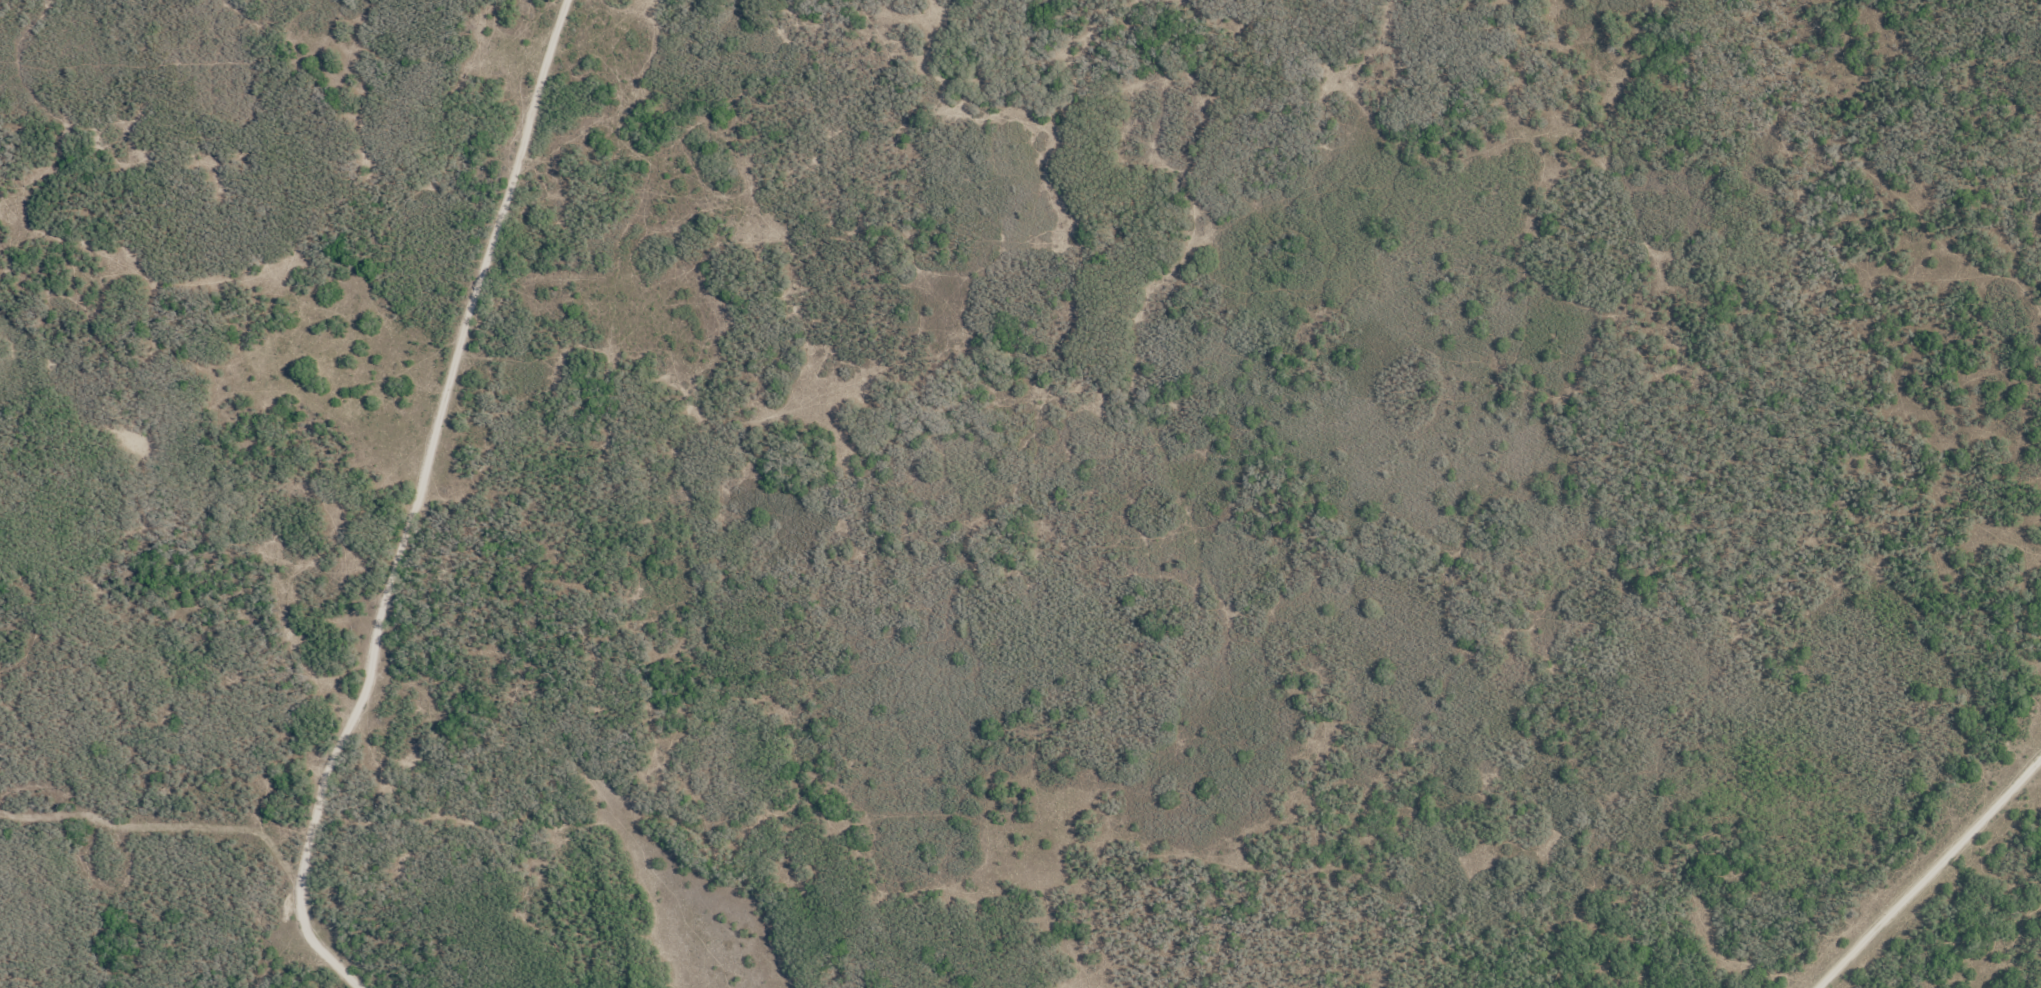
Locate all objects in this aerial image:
road: (1929, 876)

